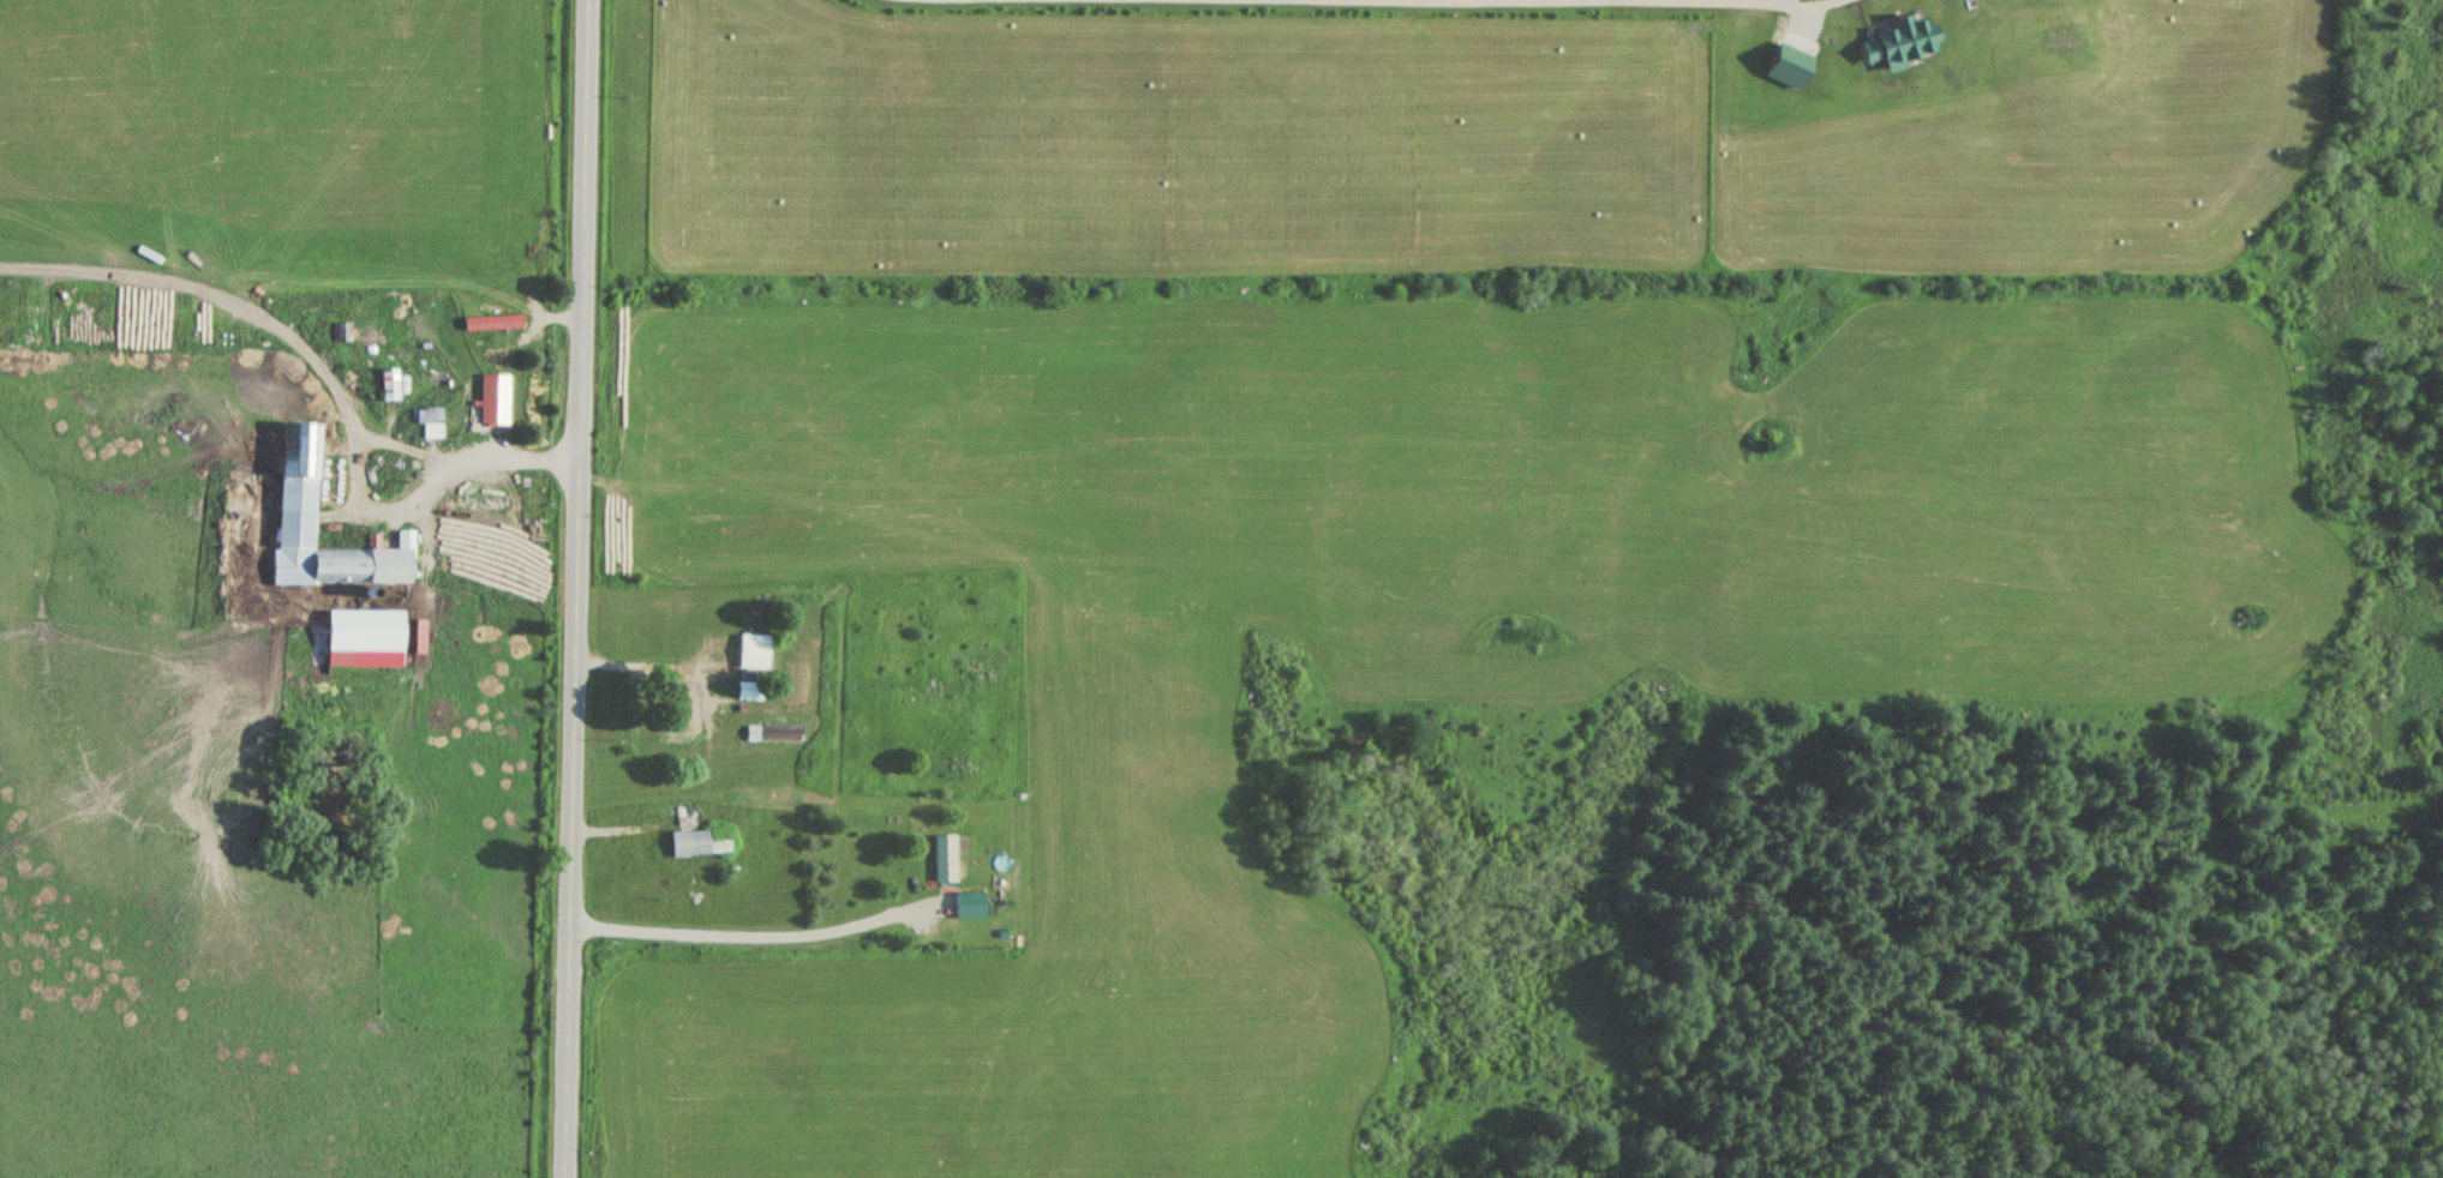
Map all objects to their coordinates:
building: (1897, 43)
building: (492, 323)
building: (388, 385)
building: (492, 398)
building: (429, 423)
building: (295, 476)
road: (575, 589)
building: (363, 631)
building: (752, 650)
building: (679, 705)
building: (696, 843)
building: (944, 858)
building: (969, 906)
road: (756, 936)

